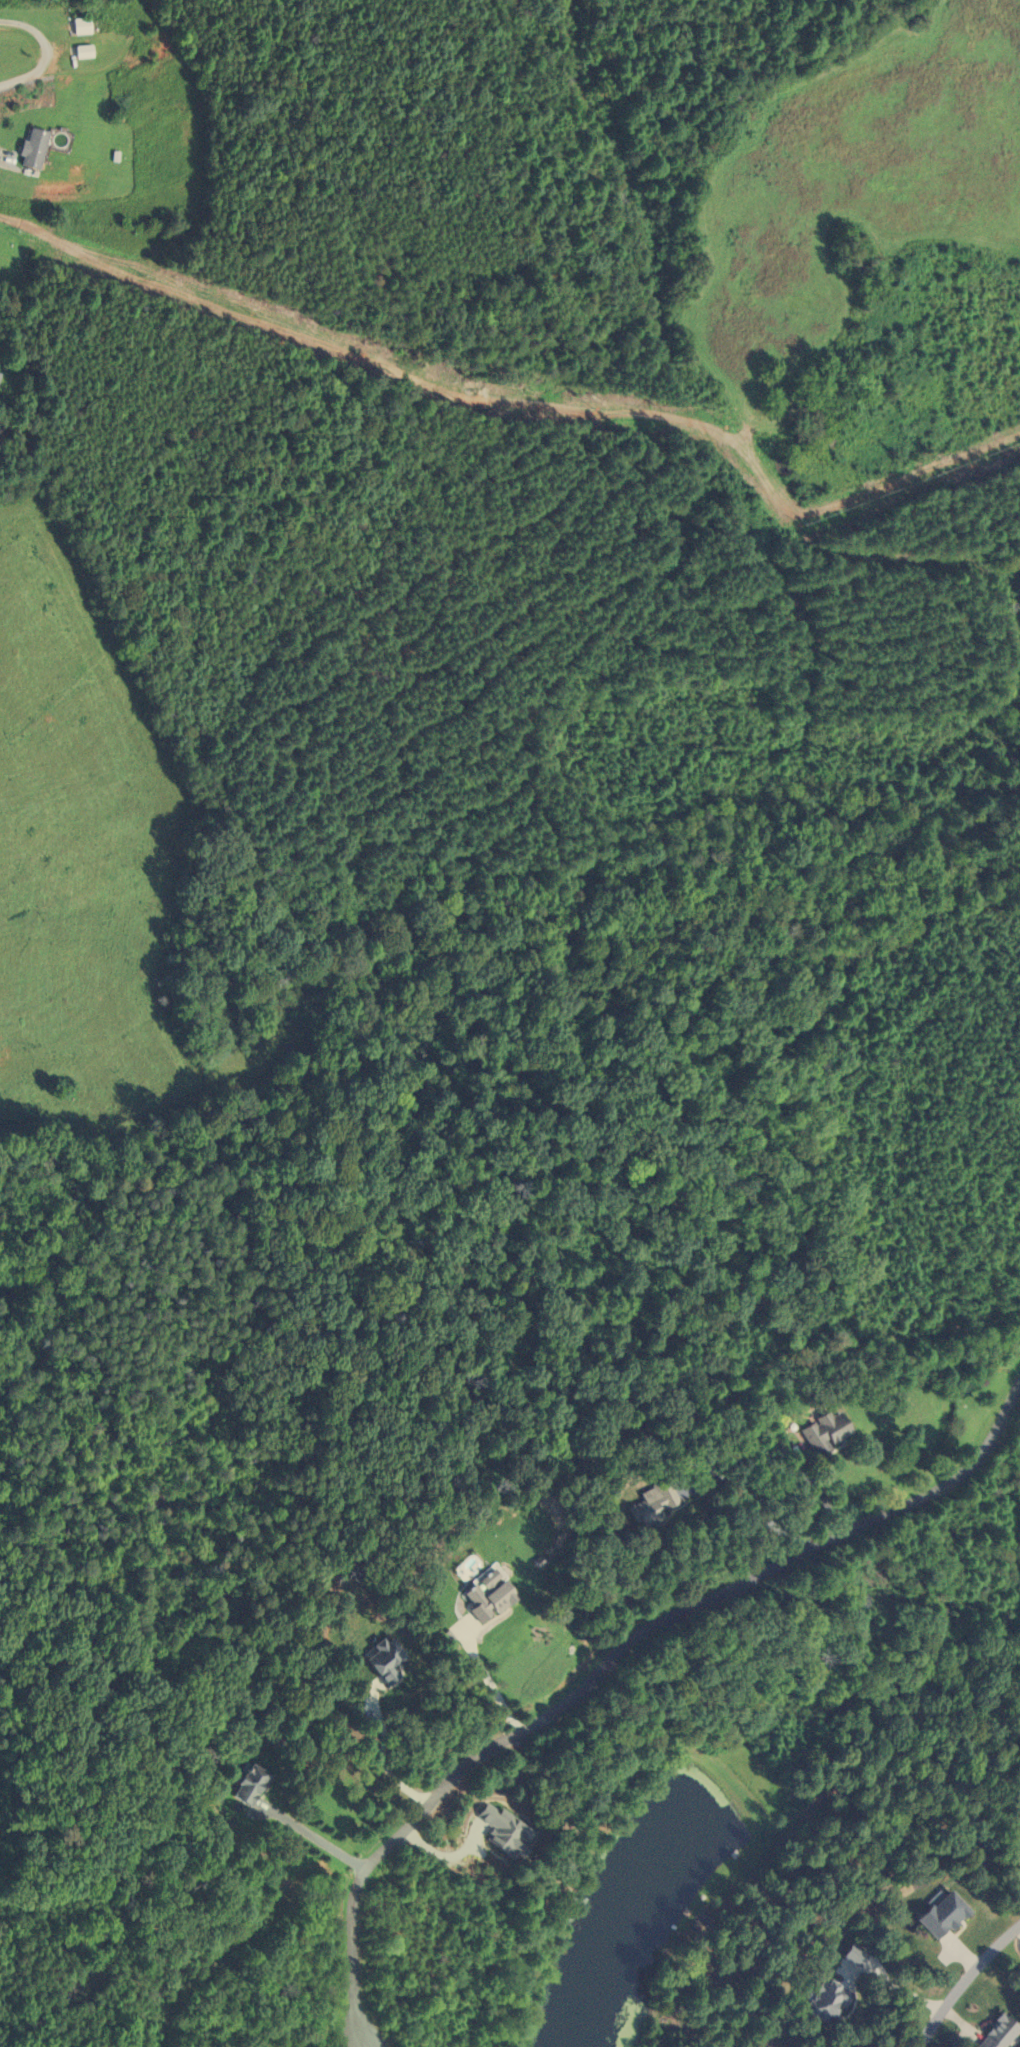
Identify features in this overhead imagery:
building: (76, 26)
road: (42, 52)
building: (79, 52)
building: (28, 149)
road: (8, 154)
building: (822, 1432)
building: (647, 1503)
building: (482, 1596)
road: (611, 1659)
building: (378, 1661)
road: (385, 1754)
building: (243, 1785)
road: (318, 1839)
building: (935, 1915)
road: (964, 1982)
building: (820, 2000)
building: (992, 2032)

